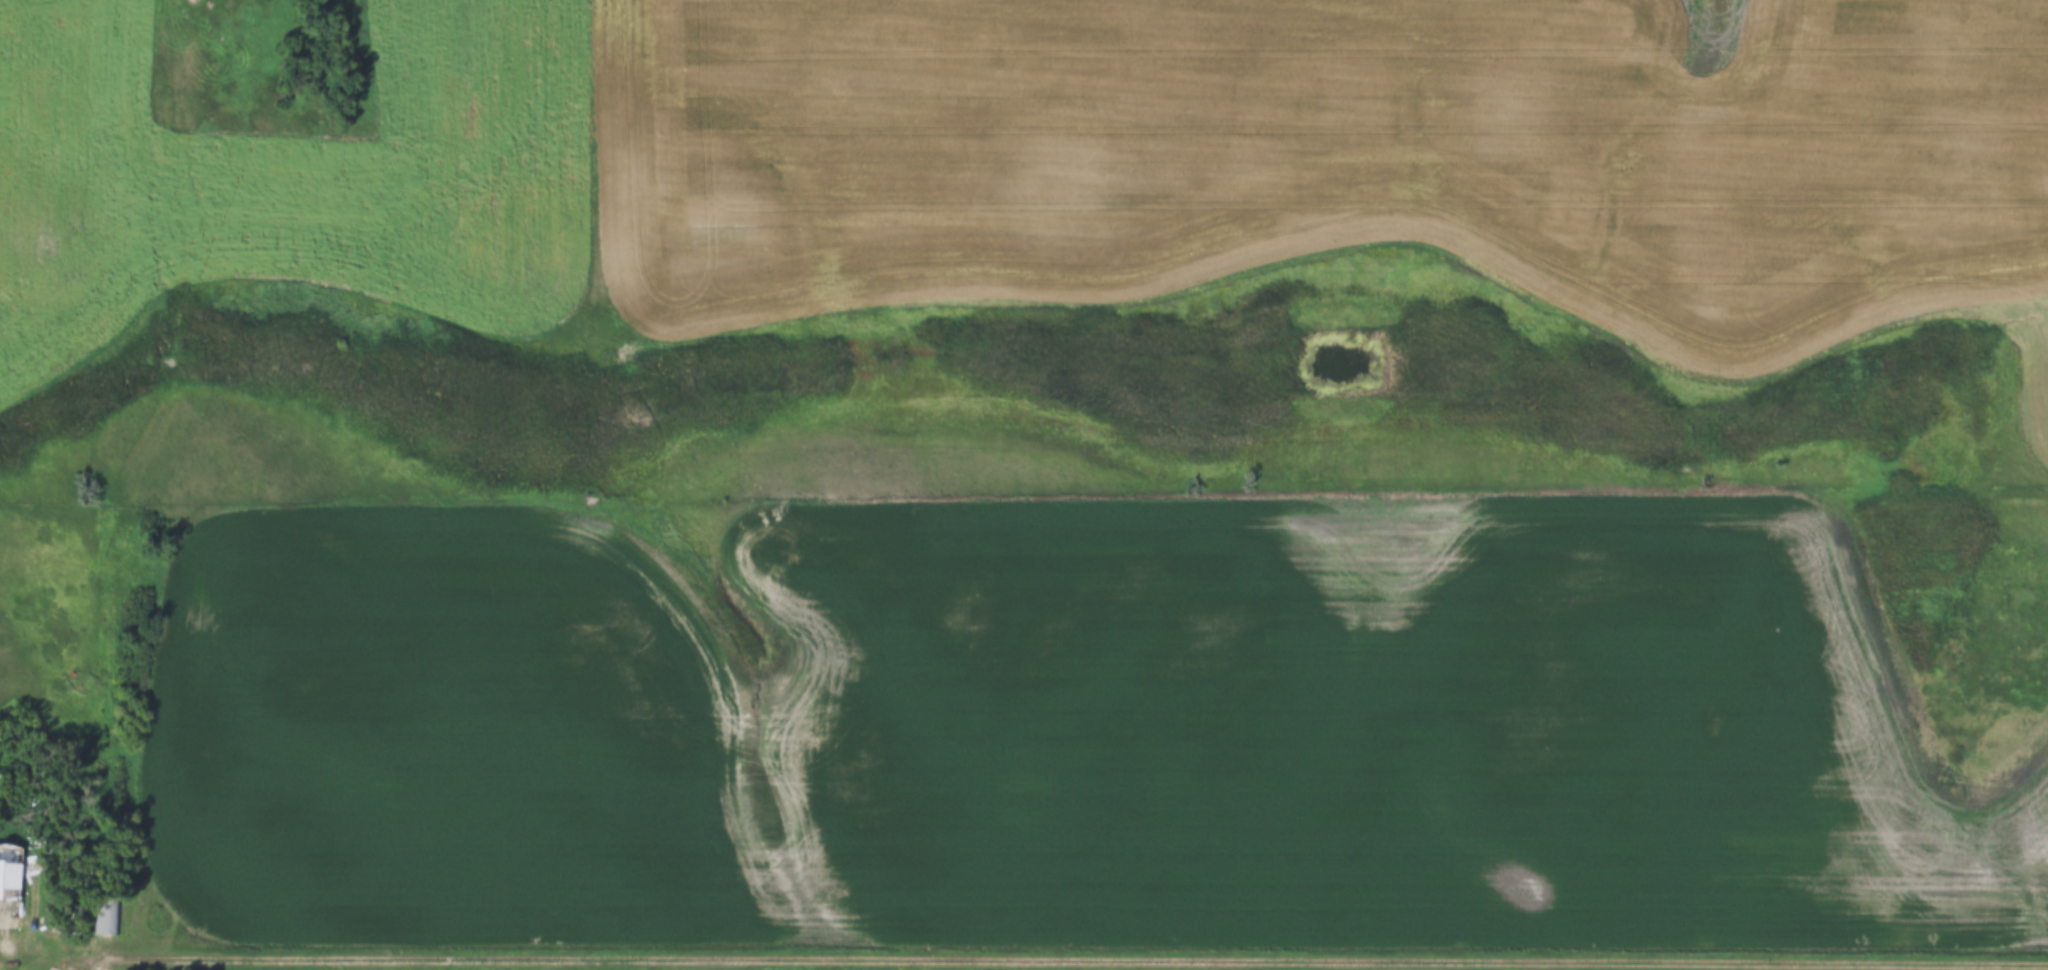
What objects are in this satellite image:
building: (7, 887)
road: (1073, 964)

